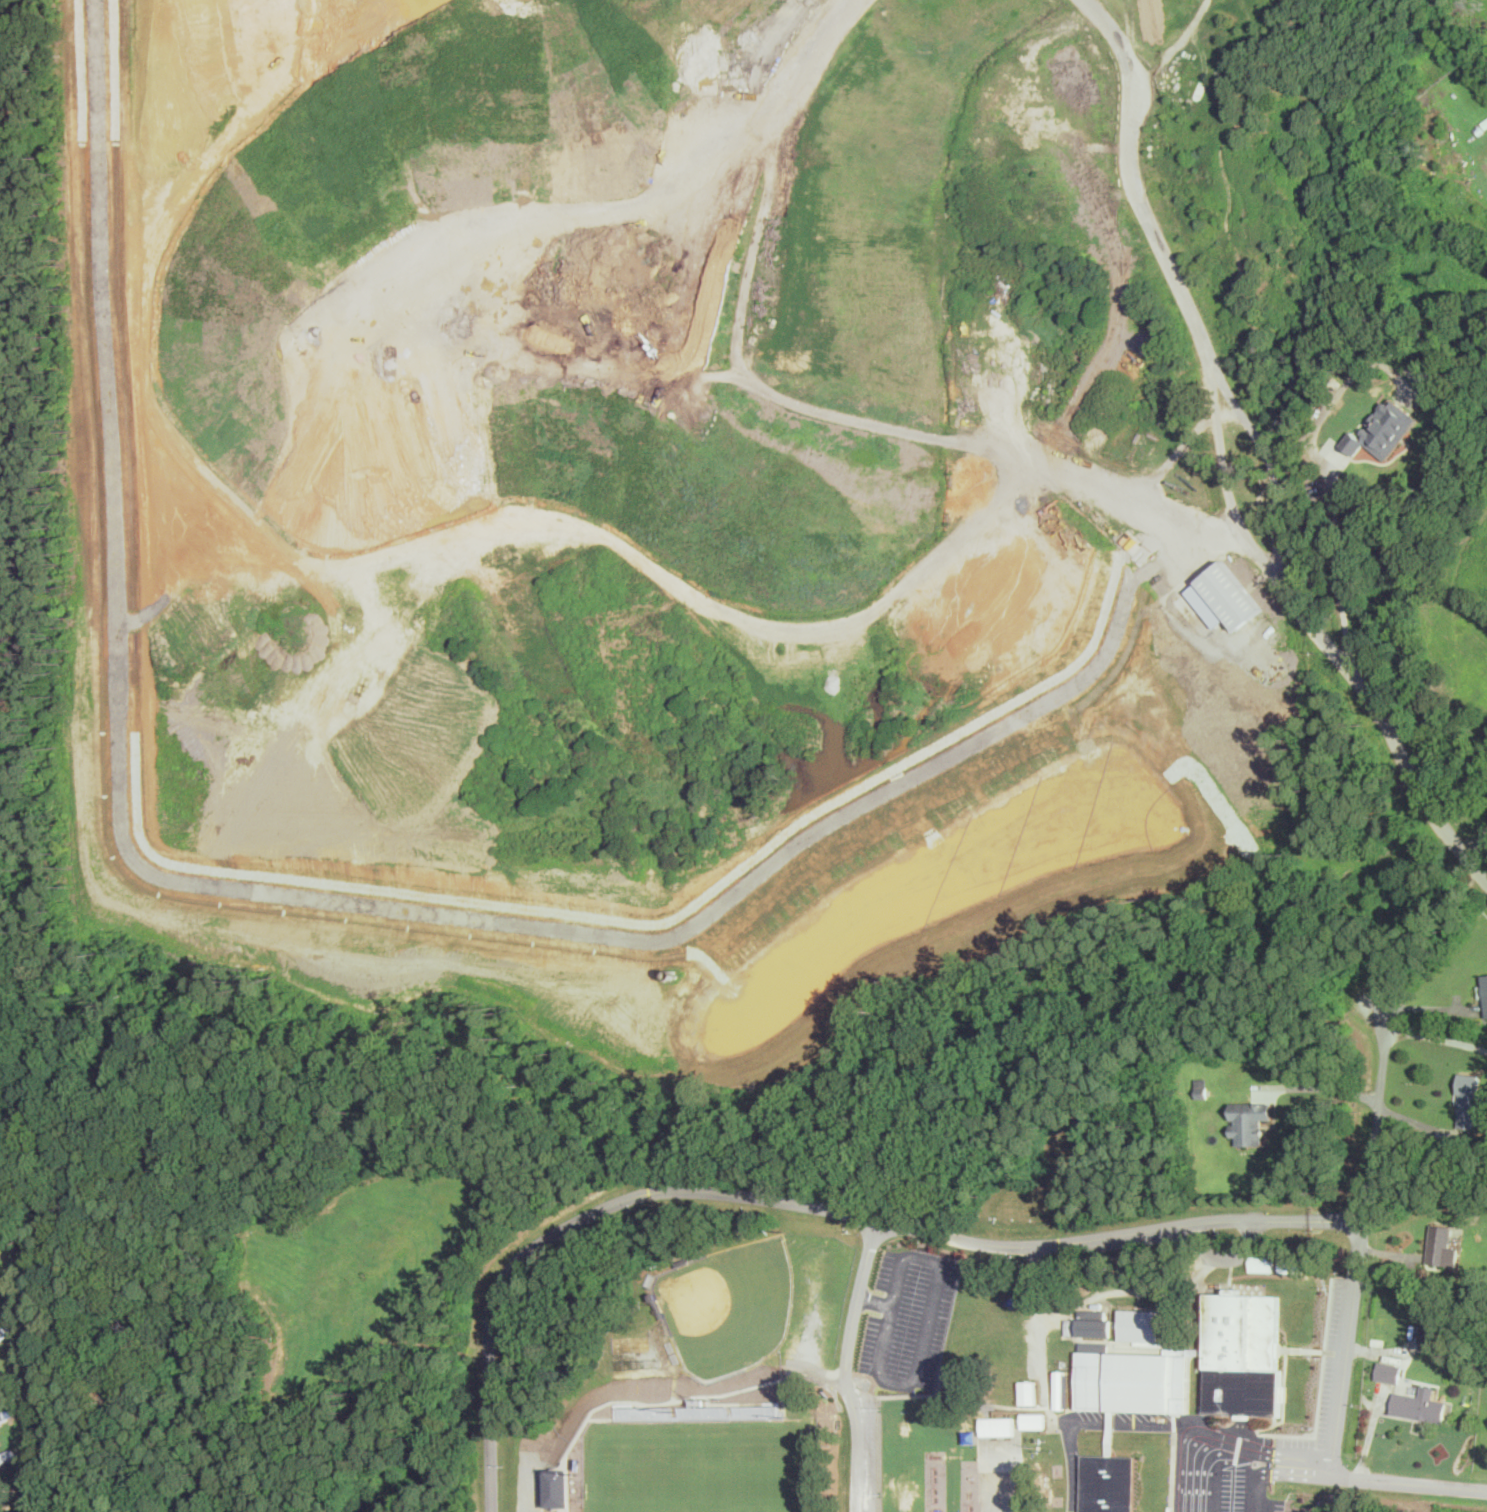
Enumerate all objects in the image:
road: (768, 145)
building: (1384, 429)
road: (1225, 463)
road: (1271, 463)
road: (1337, 529)
building: (1222, 596)
building: (1484, 992)
road: (1424, 1006)
road: (1435, 1036)
building: (4, 1075)
road: (1327, 1084)
building: (1201, 1087)
building: (1470, 1102)
road: (15, 1120)
building: (1249, 1121)
road: (805, 1204)
building: (1442, 1246)
road: (1361, 1247)
building: (1261, 1262)
building: (1291, 1264)
road: (875, 1300)
park: (730, 1306)
building: (1138, 1326)
building: (1093, 1328)
road: (926, 1329)
building: (3, 1332)
building: (1243, 1353)
road: (846, 1364)
building: (1388, 1372)
building: (1131, 1380)
building: (1061, 1389)
building: (1028, 1392)
building: (1420, 1406)
building: (2, 1417)
building: (1033, 1420)
road: (1114, 1422)
building: (998, 1426)
road: (1282, 1455)
road: (1328, 1467)
road: (1274, 1471)
road: (1212, 1474)
road: (1408, 1482)
building: (1107, 1483)
building: (557, 1487)
road: (523, 1497)

